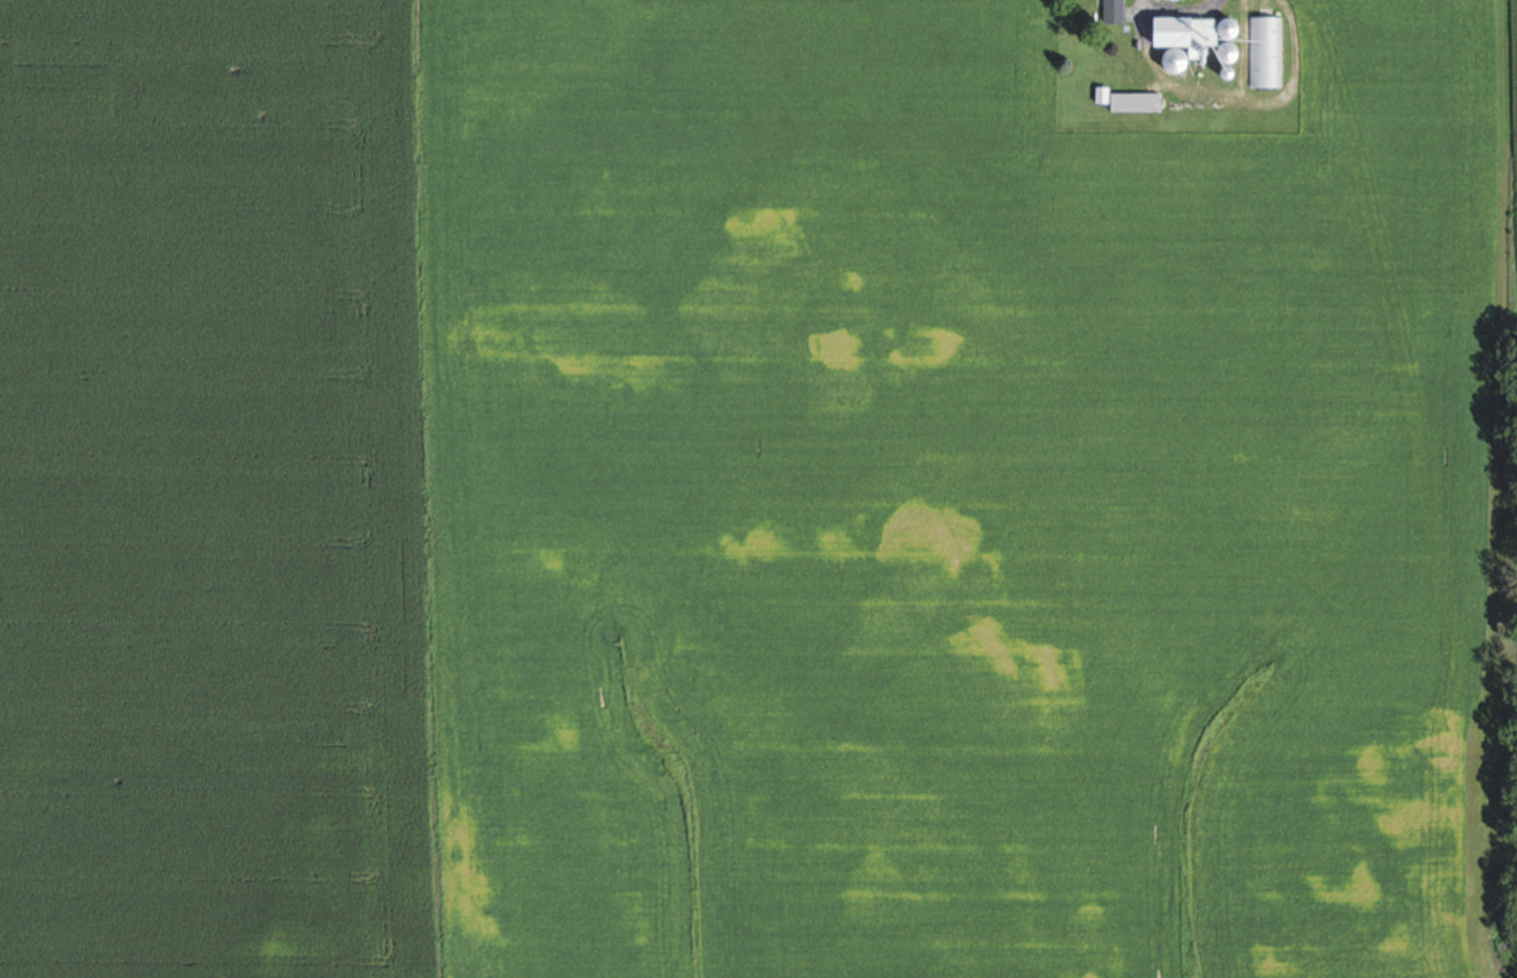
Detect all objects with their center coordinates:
building: (1168, 0)
road: (1178, 10)
building: (1111, 12)
building: (1188, 37)
building: (1267, 53)
building: (1169, 63)
building: (1126, 103)

